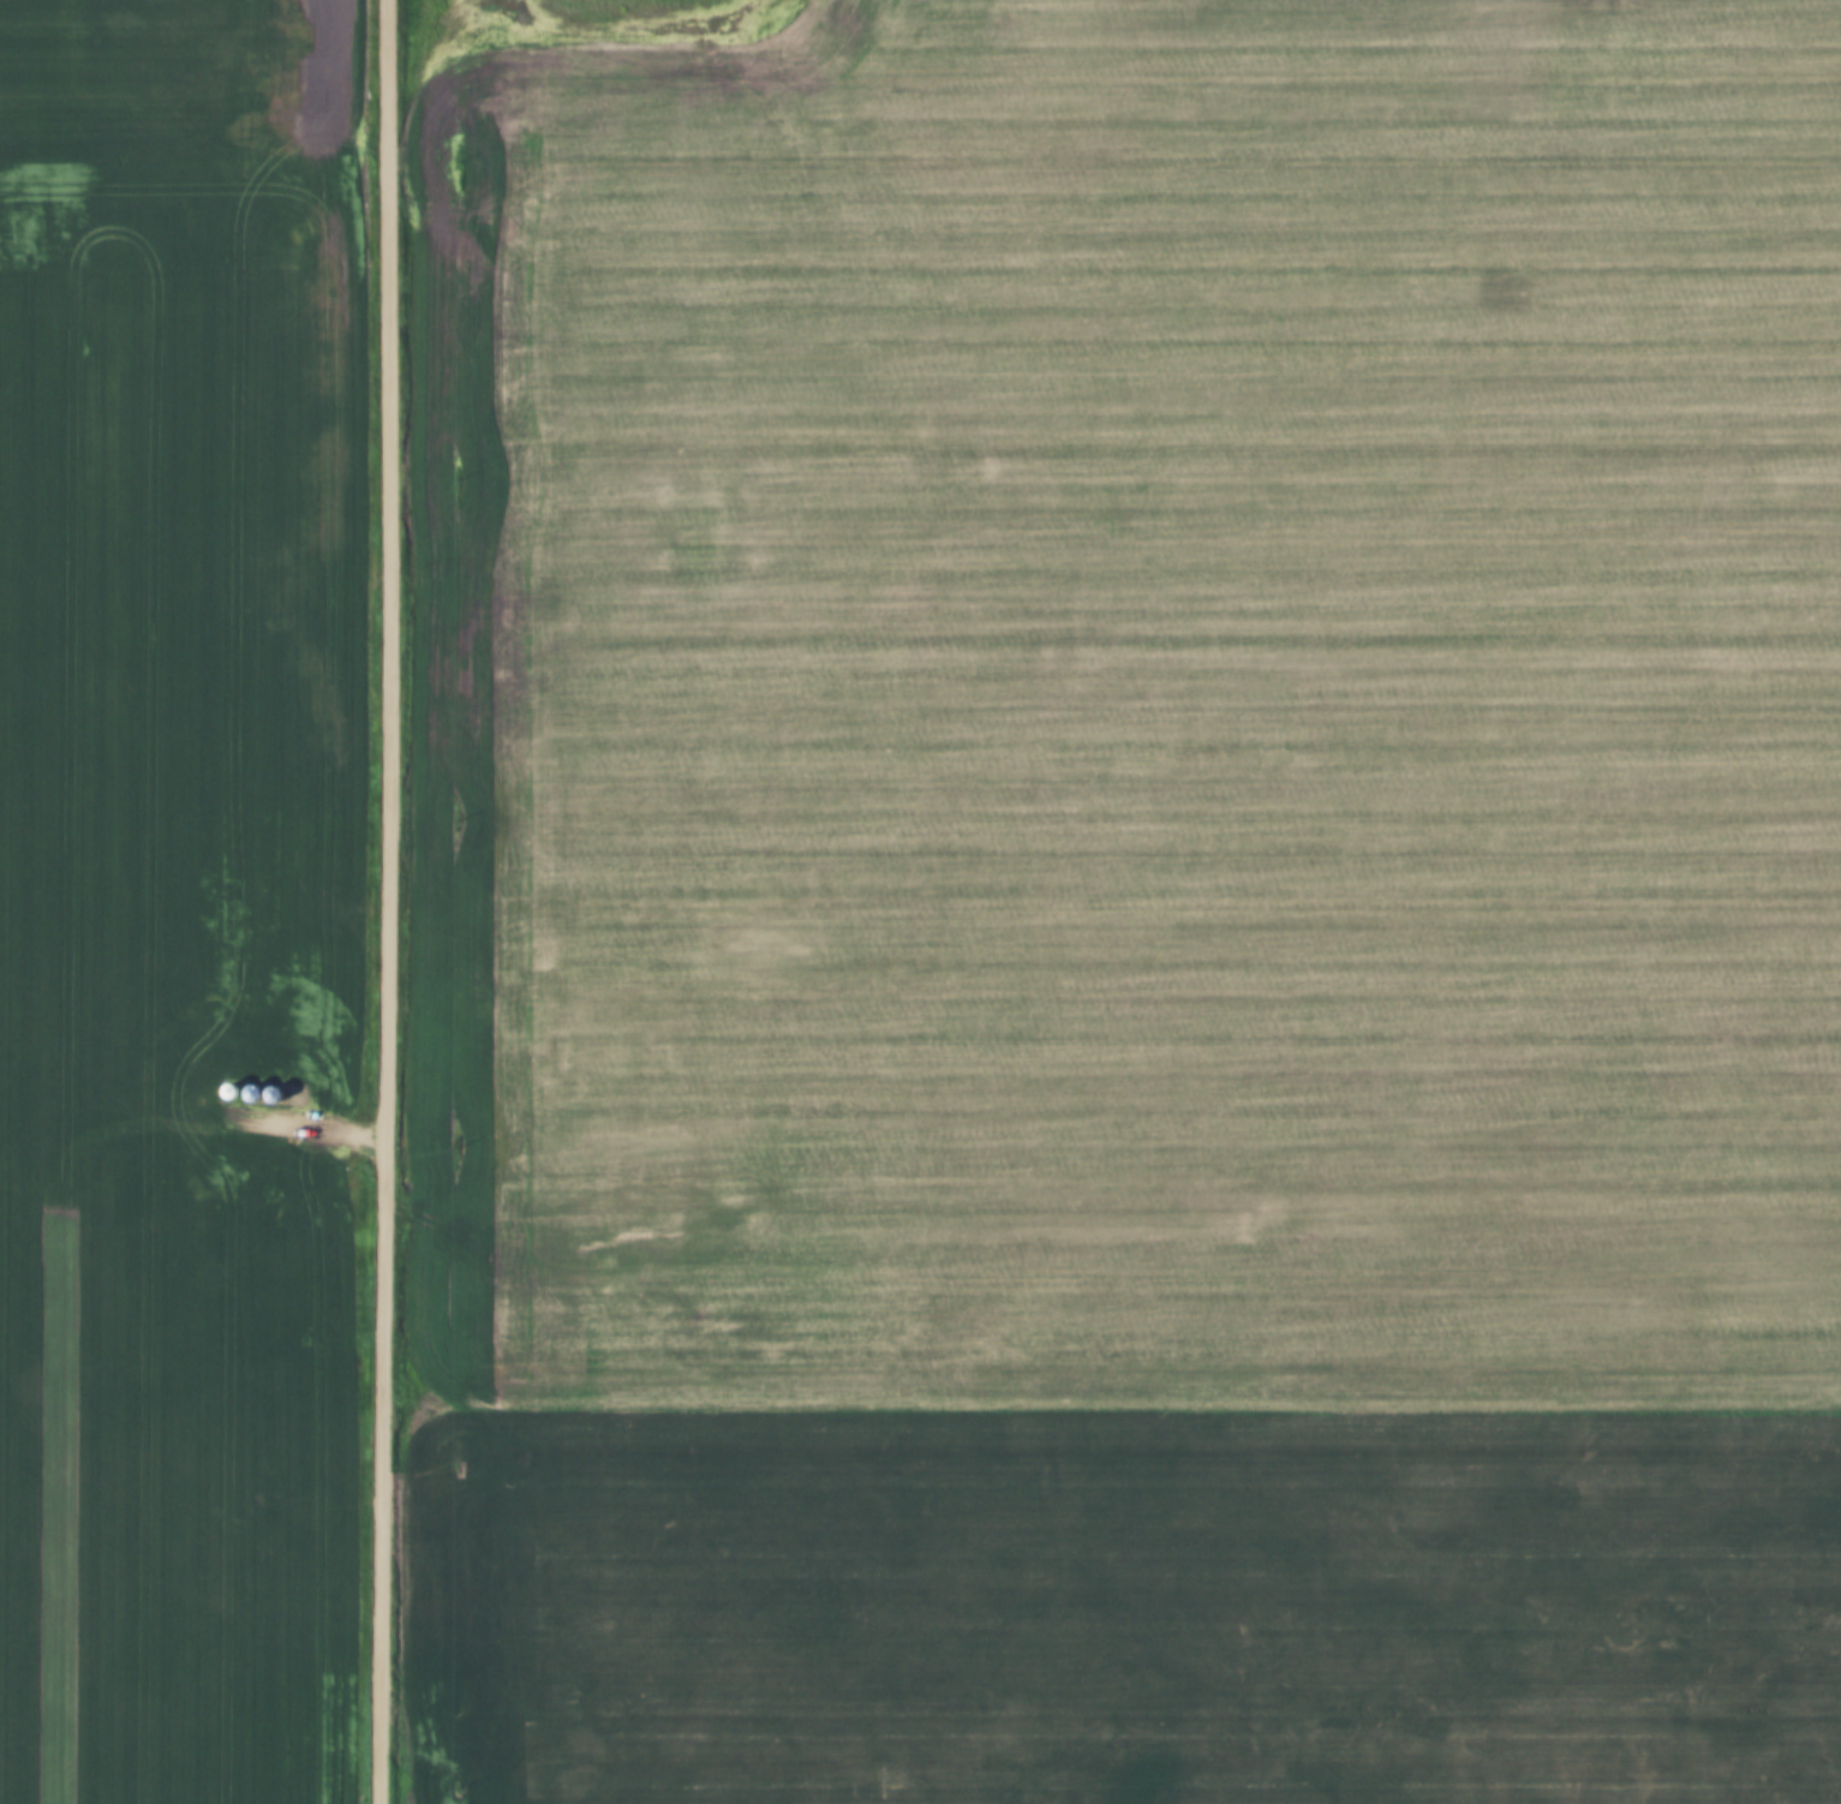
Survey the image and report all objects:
road: (388, 902)

